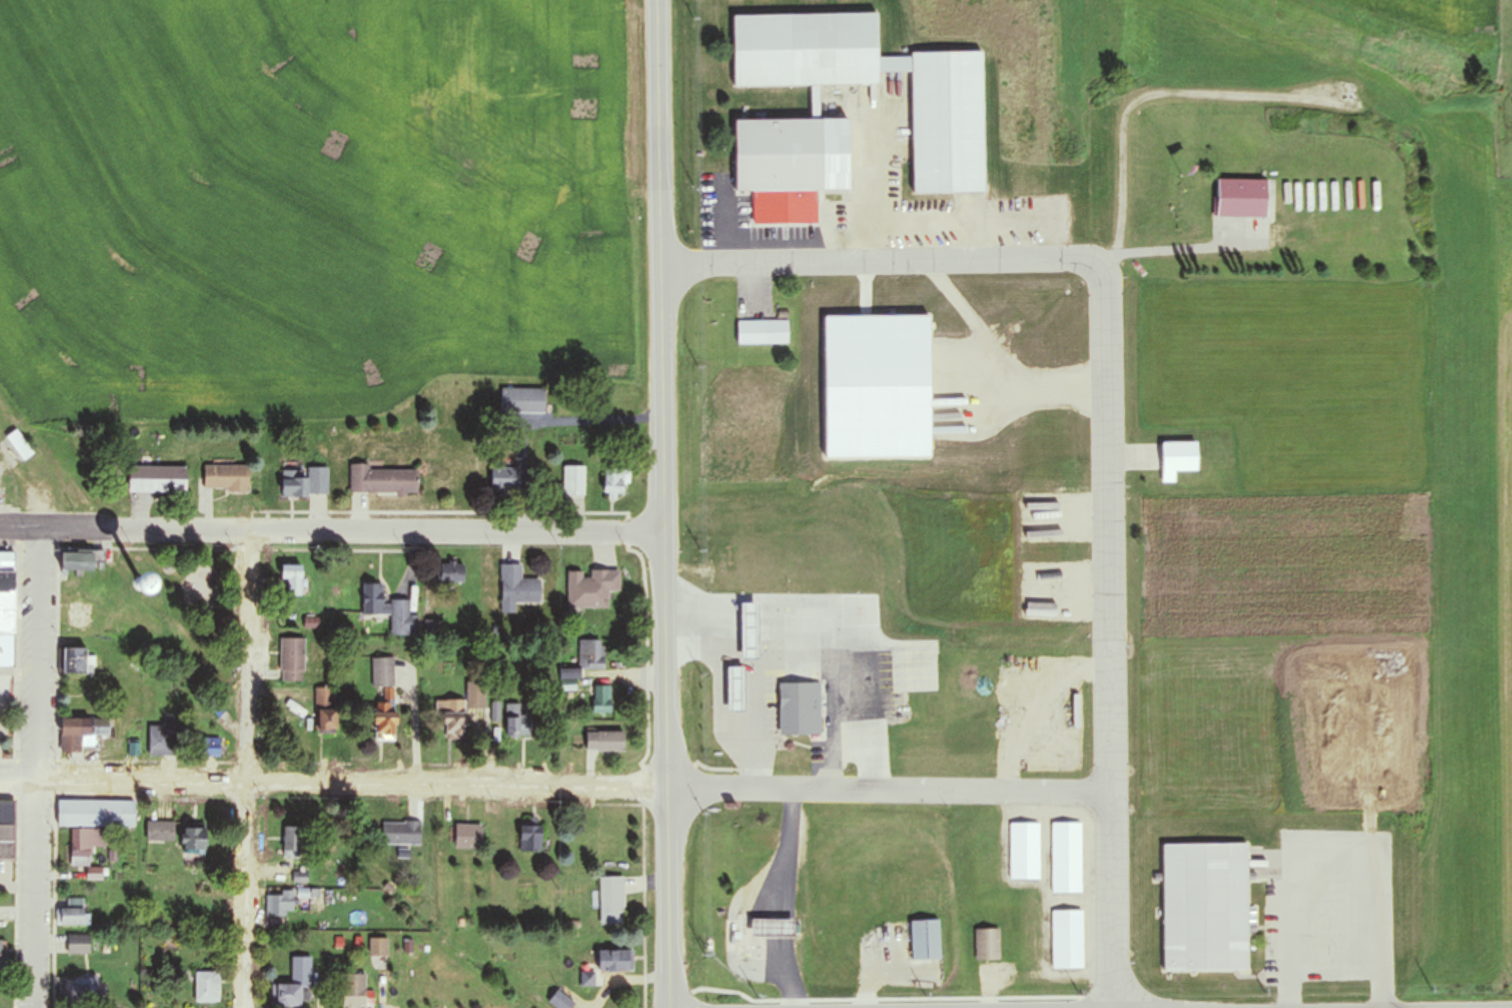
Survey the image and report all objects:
building: (947, 139)
building: (791, 155)
building: (1241, 198)
road: (660, 213)
road: (881, 260)
building: (763, 332)
building: (523, 401)
building: (19, 445)
building: (1177, 459)
building: (226, 478)
building: (504, 478)
building: (157, 480)
building: (384, 481)
building: (574, 481)
building: (616, 481)
building: (305, 483)
road: (332, 529)
building: (75, 562)
building: (451, 574)
building: (291, 581)
building: (133, 587)
building: (517, 589)
building: (591, 589)
building: (388, 610)
park: (178, 614)
building: (6, 615)
building: (85, 615)
building: (436, 629)
road: (1108, 637)
road: (817, 654)
building: (292, 660)
building: (73, 661)
building: (583, 664)
building: (735, 690)
gas station: (735, 690)
building: (602, 699)
building: (384, 700)
building: (324, 701)
building: (799, 709)
building: (460, 711)
road: (668, 716)
road: (757, 721)
building: (518, 722)
building: (80, 734)
building: (161, 740)
building: (605, 742)
building: (211, 748)
road: (34, 766)
road: (251, 768)
road: (554, 786)
building: (95, 813)
building: (6, 830)
building: (160, 832)
building: (402, 833)
building: (530, 835)
building: (468, 836)
building: (192, 839)
building: (293, 842)
building: (86, 849)
building: (1025, 852)
building: (1067, 858)
building: (612, 900)
building: (279, 904)
building: (1206, 908)
building: (74, 913)
building: (763, 926)
building: (1068, 939)
building: (926, 940)
building: (79, 944)
building: (988, 944)
building: (379, 948)
building: (3, 954)
building: (613, 960)
building: (295, 983)
building: (207, 986)
building: (76, 987)
building: (356, 991)
building: (561, 1001)

